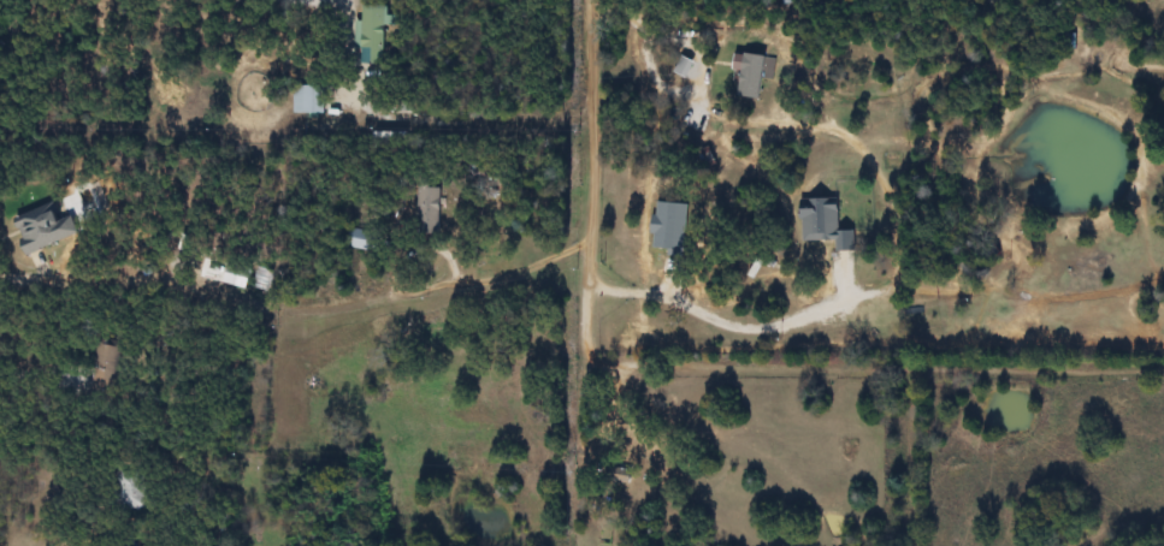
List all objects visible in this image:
building: (373, 34)
building: (685, 65)
building: (311, 99)
road: (455, 124)
road: (580, 140)
building: (707, 156)
road: (87, 195)
building: (430, 209)
building: (826, 222)
building: (46, 226)
building: (366, 238)
road: (277, 263)
building: (236, 275)
road: (492, 280)
road: (708, 310)
building: (435, 320)
road: (572, 349)
building: (107, 364)
building: (69, 380)
building: (134, 489)

